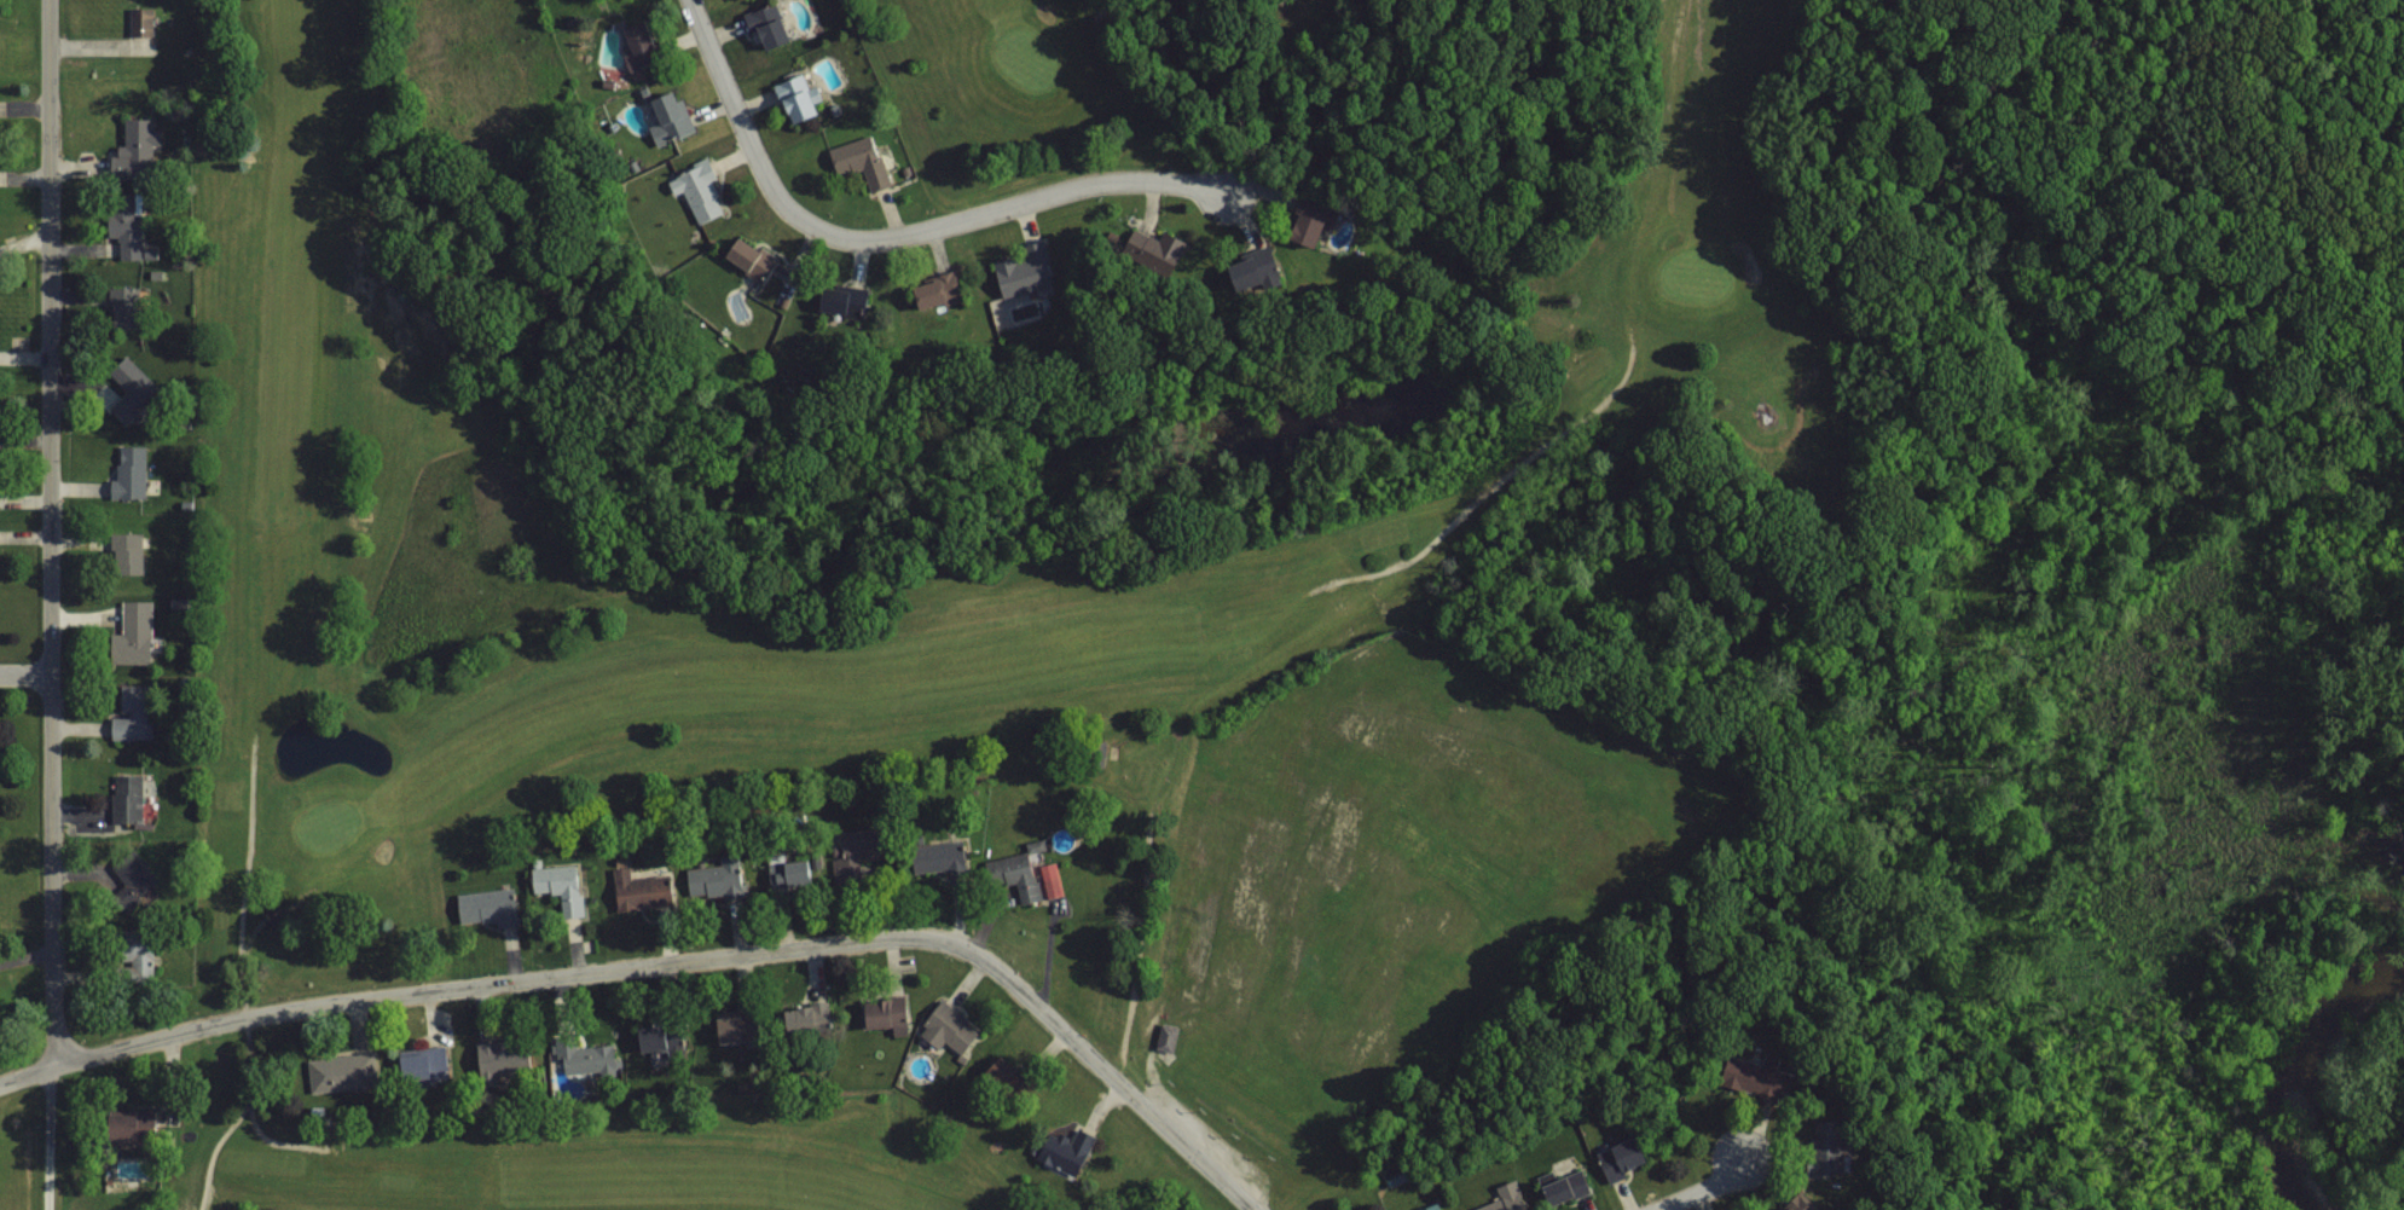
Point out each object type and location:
building: (765, 27)
building: (636, 40)
building: (792, 98)
building: (660, 100)
building: (1, 111)
building: (133, 150)
building: (858, 161)
building: (701, 192)
road: (893, 236)
building: (748, 259)
building: (1021, 270)
building: (1247, 270)
building: (933, 291)
building: (129, 387)
building: (128, 471)
road: (51, 534)
park: (920, 534)
building: (123, 552)
building: (132, 631)
road: (25, 677)
building: (131, 713)
building: (126, 799)
building: (853, 853)
building: (935, 857)
building: (1003, 870)
building: (131, 873)
building: (787, 873)
building: (679, 885)
building: (557, 888)
building: (483, 907)
road: (672, 963)
building: (882, 1013)
building: (794, 1019)
building: (725, 1029)
building: (945, 1029)
building: (1163, 1037)
building: (648, 1038)
building: (499, 1058)
building: (586, 1059)
building: (422, 1064)
building: (340, 1071)
building: (998, 1073)
road: (47, 1140)
building: (1062, 1150)
building: (1620, 1159)
building: (1562, 1186)
road: (1703, 1188)
building: (1504, 1198)
building: (1788, 1203)

